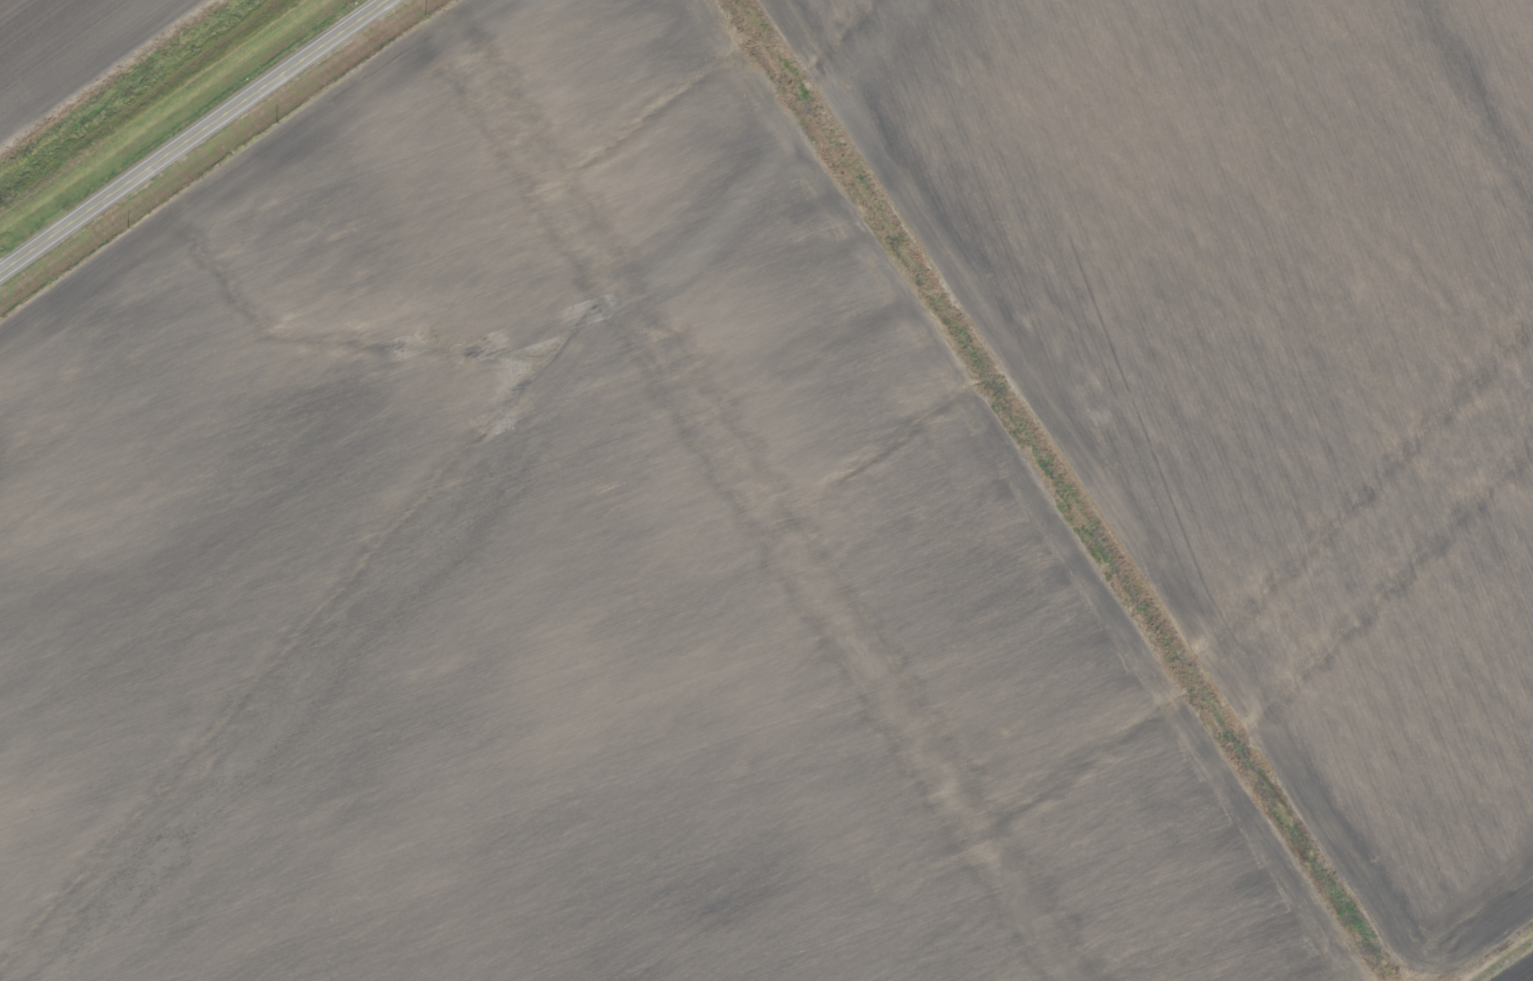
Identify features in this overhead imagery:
road: (193, 133)

